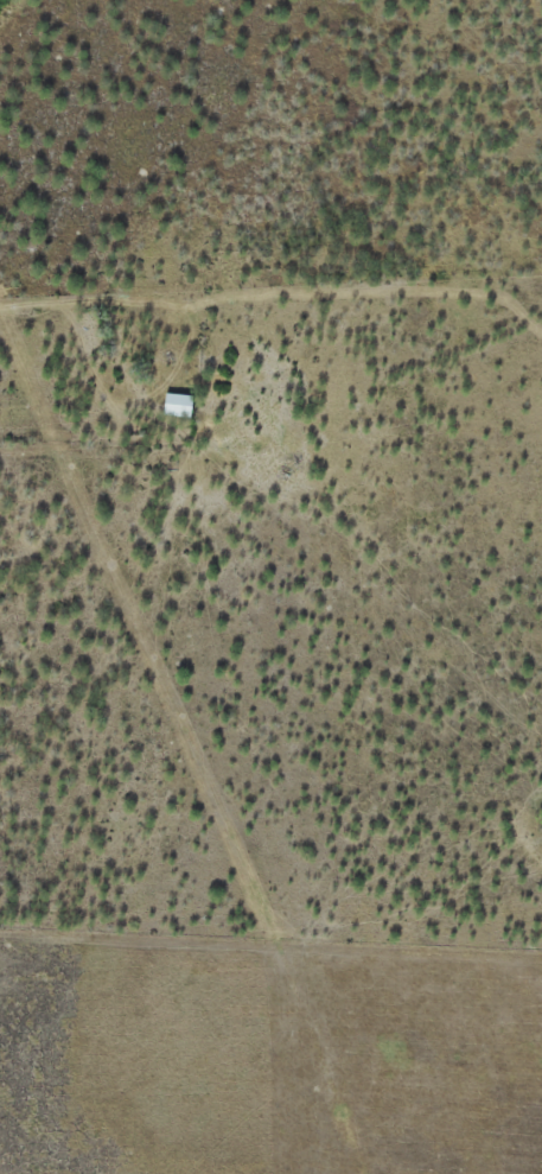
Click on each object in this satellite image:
building: (173, 405)

